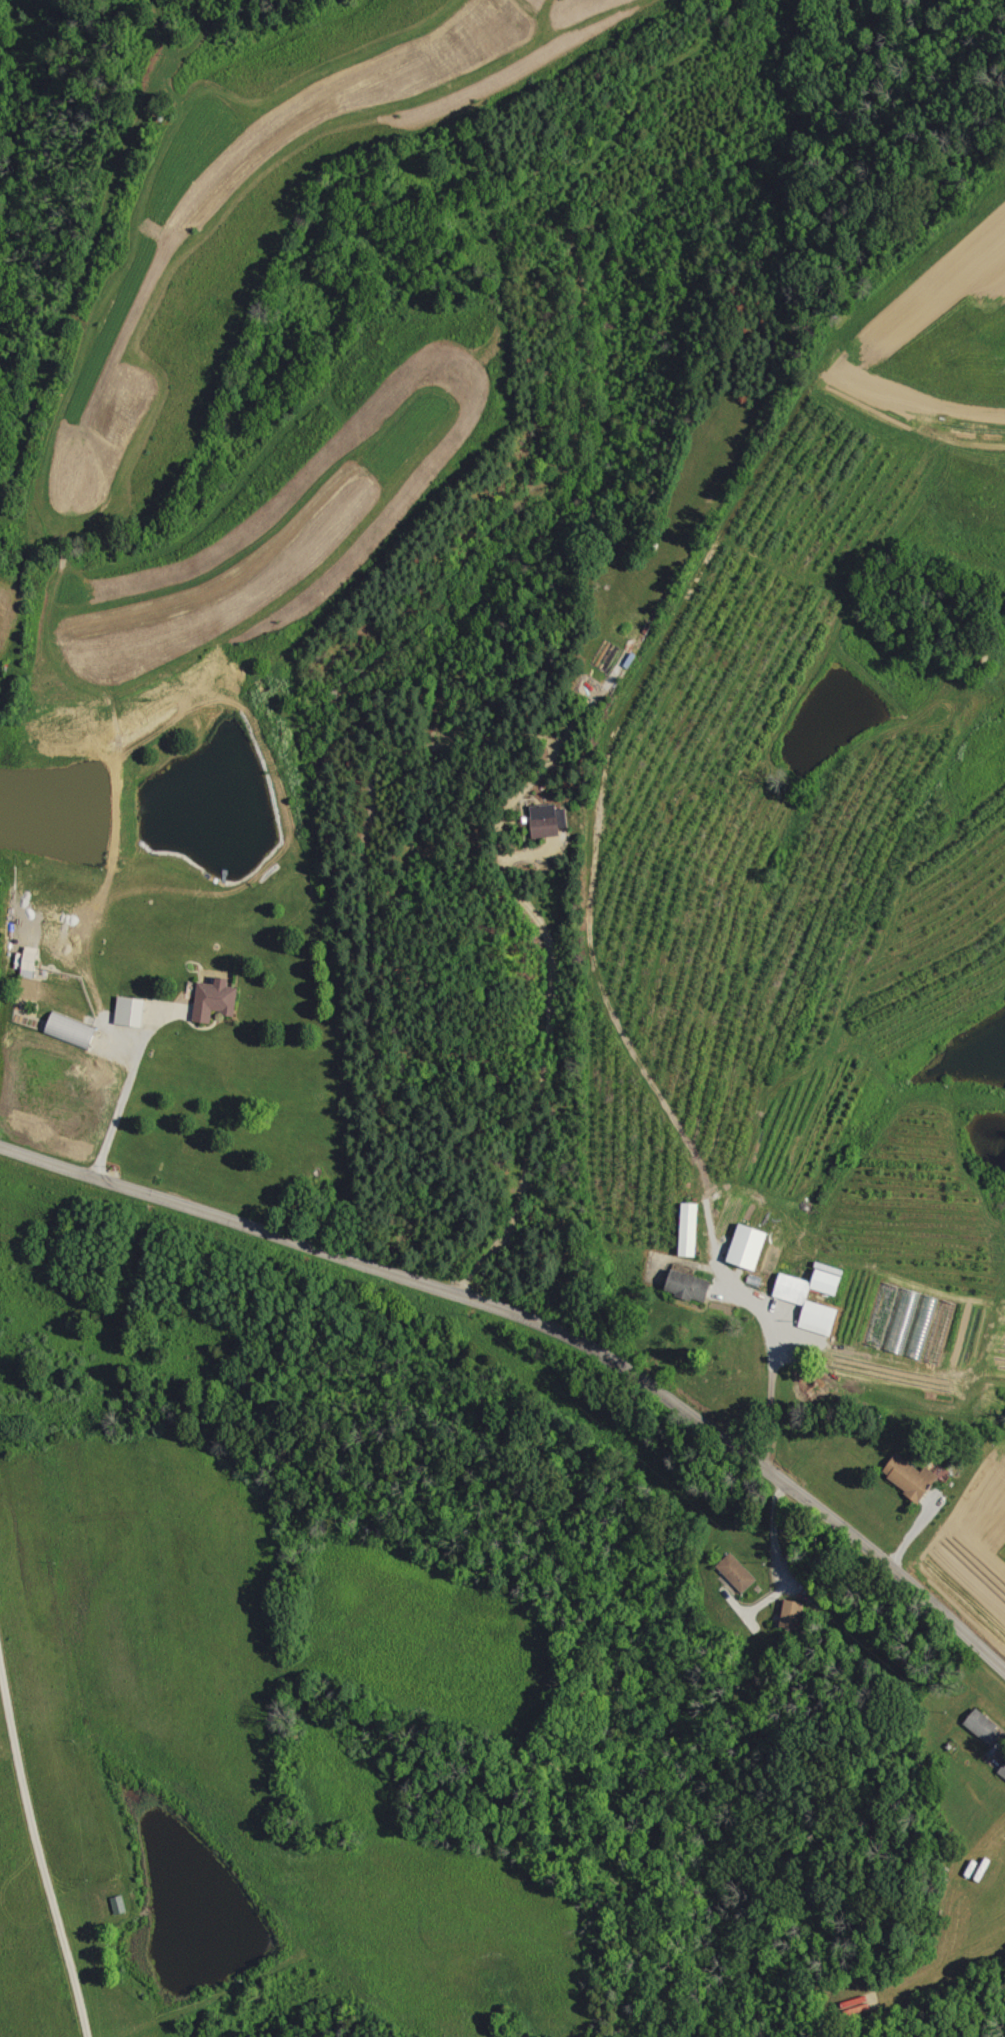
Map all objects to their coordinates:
building: (549, 819)
building: (31, 961)
building: (216, 998)
building: (131, 1010)
building: (72, 1030)
road: (544, 1066)
road: (116, 1105)
building: (690, 1229)
building: (750, 1246)
building: (690, 1285)
building: (796, 1298)
road: (542, 1330)
road: (774, 1356)
building: (911, 1477)
building: (736, 1572)
building: (792, 1614)
building: (985, 1727)
building: (1003, 1771)
road: (39, 1863)
building: (120, 1904)

